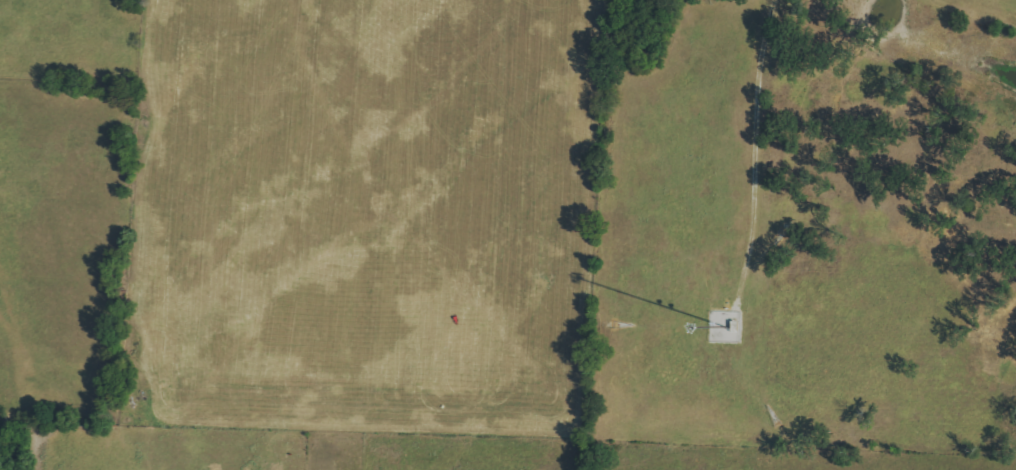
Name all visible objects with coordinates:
road: (755, 156)

